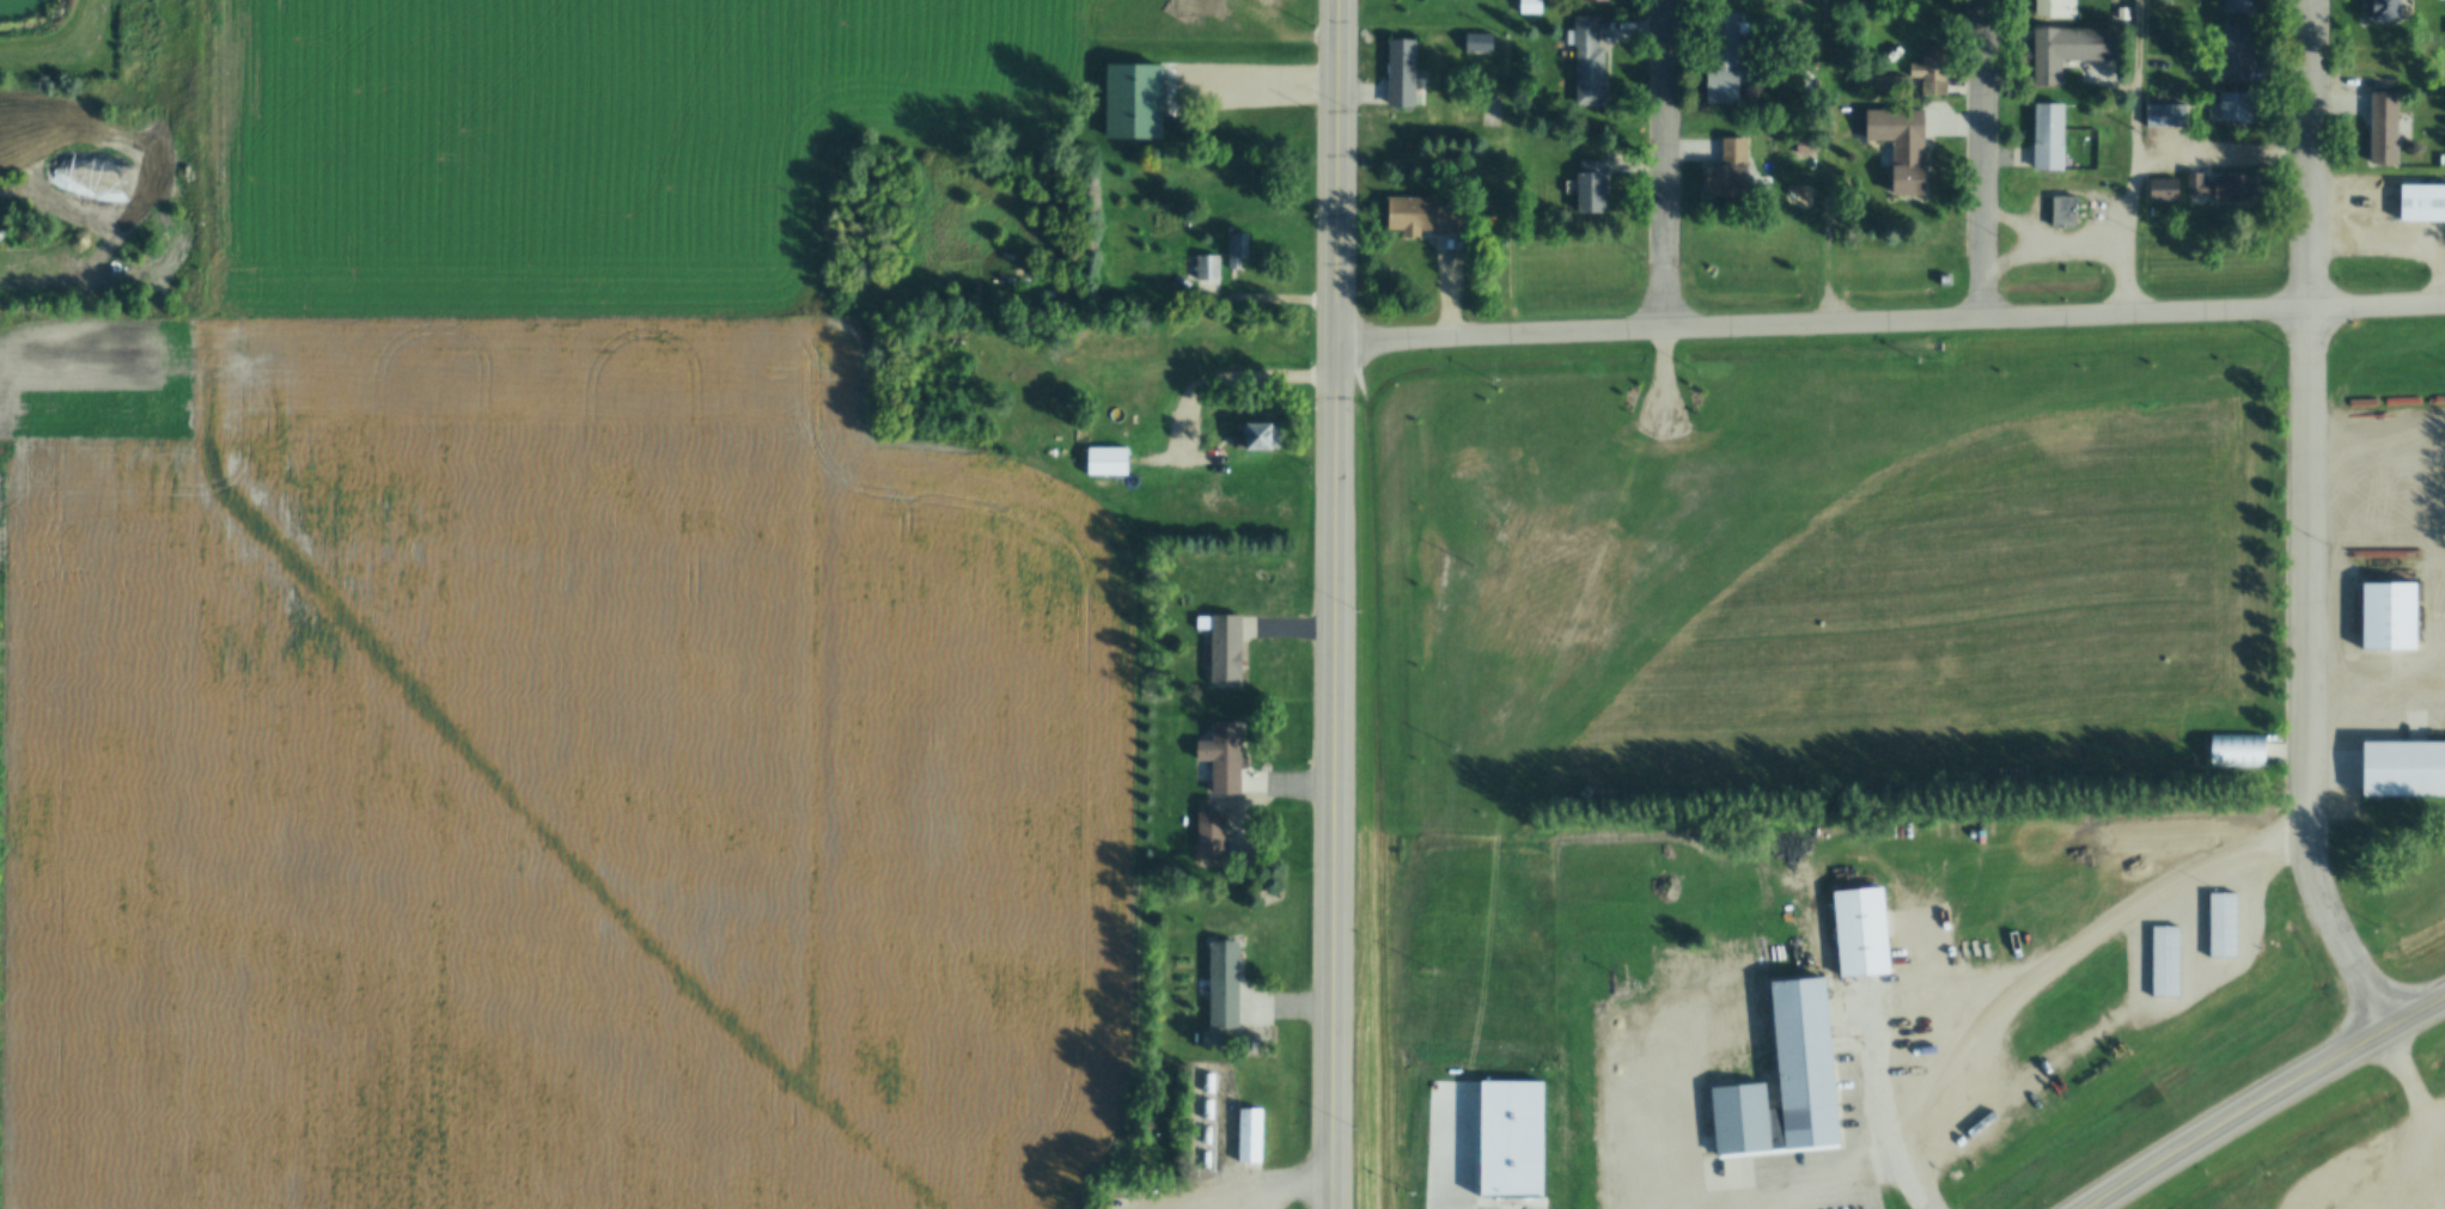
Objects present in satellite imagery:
building: (1597, 1)
building: (2243, 6)
building: (1531, 7)
building: (2055, 8)
building: (2391, 10)
building: (1478, 42)
building: (2075, 49)
building: (2240, 49)
building: (1591, 65)
building: (1934, 69)
building: (1404, 74)
building: (1726, 75)
building: (1884, 85)
building: (1907, 85)
building: (2238, 109)
building: (2170, 114)
building: (2390, 129)
building: (2053, 136)
building: (1912, 152)
road: (2142, 159)
road: (1992, 161)
road: (1671, 166)
building: (1732, 169)
building: (1595, 188)
building: (2234, 189)
building: (2172, 190)
building: (2412, 204)
building: (2067, 212)
building: (1426, 216)
building: (1239, 250)
building: (1209, 268)
building: (1947, 280)
road: (26, 300)
road: (1895, 325)
building: (1261, 436)
building: (1081, 460)
building: (1111, 462)
road: (2316, 524)
road: (1345, 604)
building: (2438, 607)
building: (2389, 616)
building: (1228, 647)
building: (2238, 752)
building: (1228, 757)
building: (2403, 770)
building: (2004, 771)
building: (1214, 835)
building: (1866, 933)
building: (1226, 984)
road: (2034, 1008)
building: (1213, 1038)
building: (1788, 1081)
storage tank: (1208, 1083)
road: (2268, 1103)
storage tank: (1207, 1110)
road: (1880, 1111)
storage tank: (1206, 1135)
building: (1251, 1136)
storage tank: (1205, 1161)
building: (1477, 1167)

